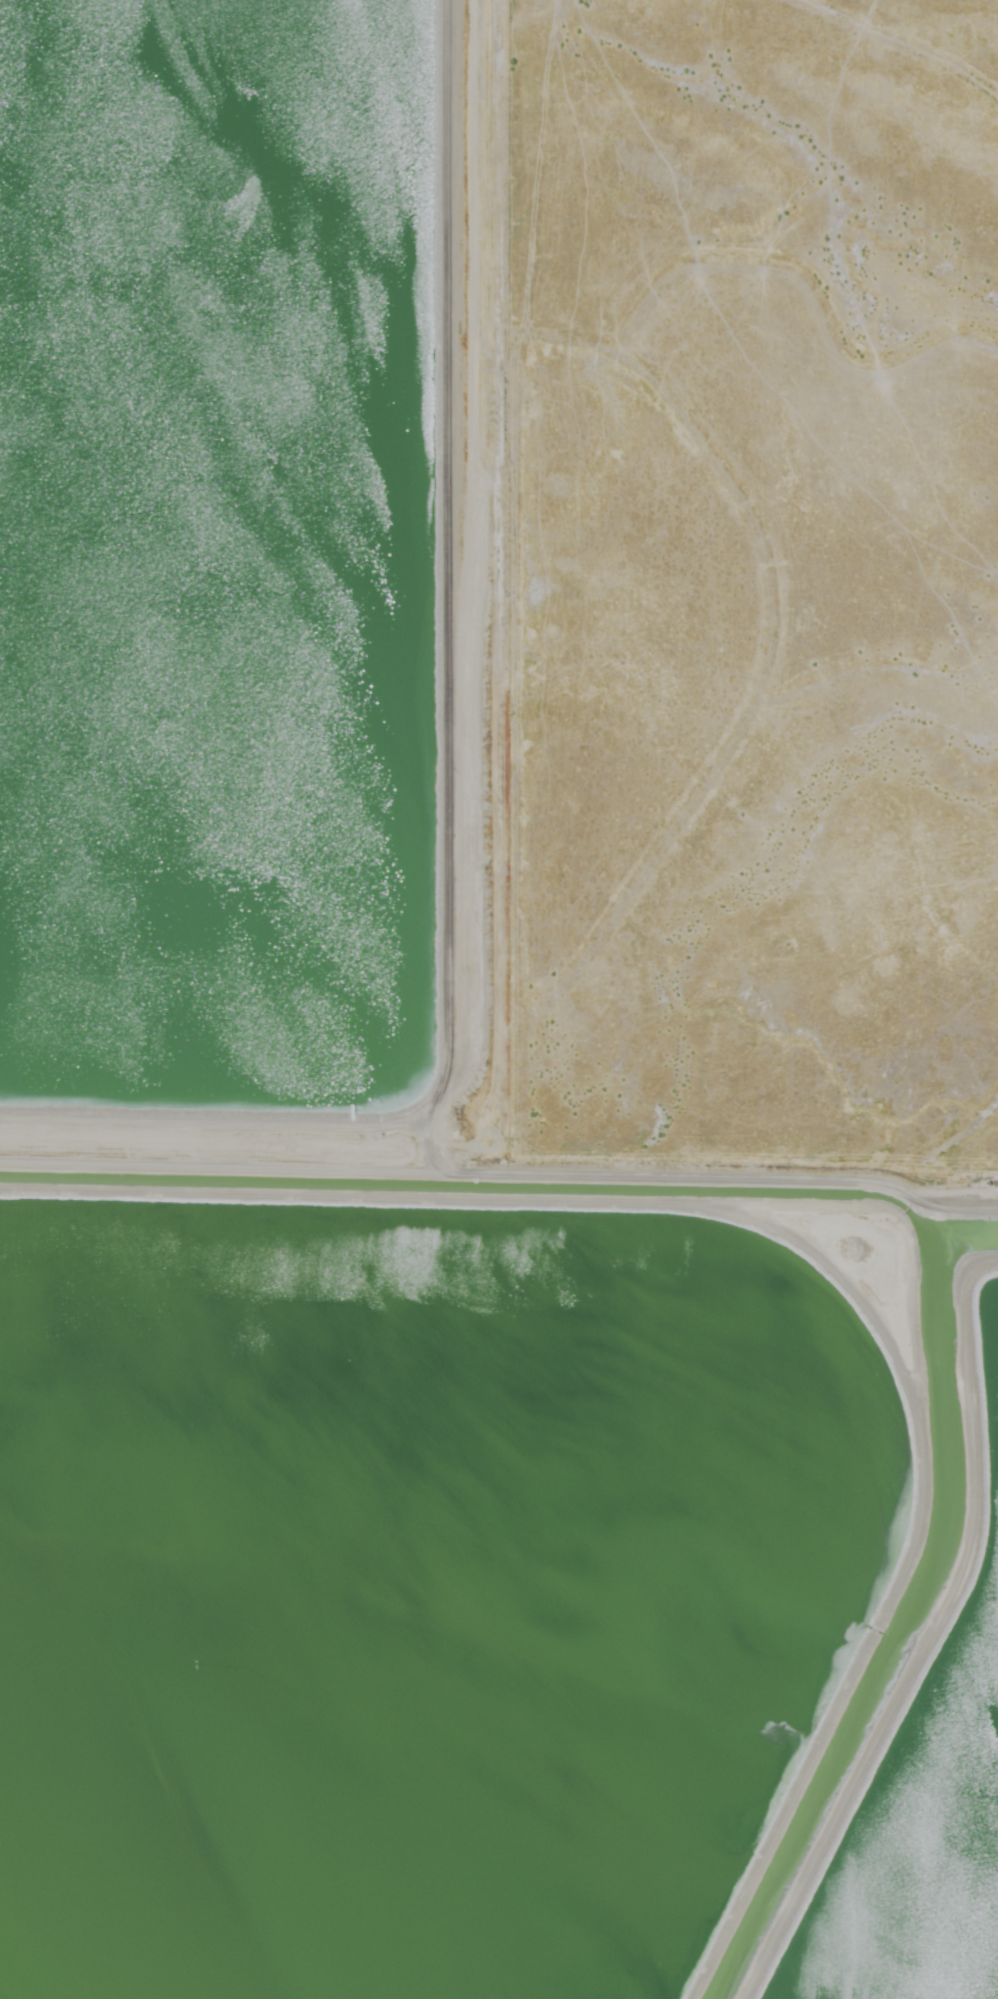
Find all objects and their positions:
road: (461, 793)

